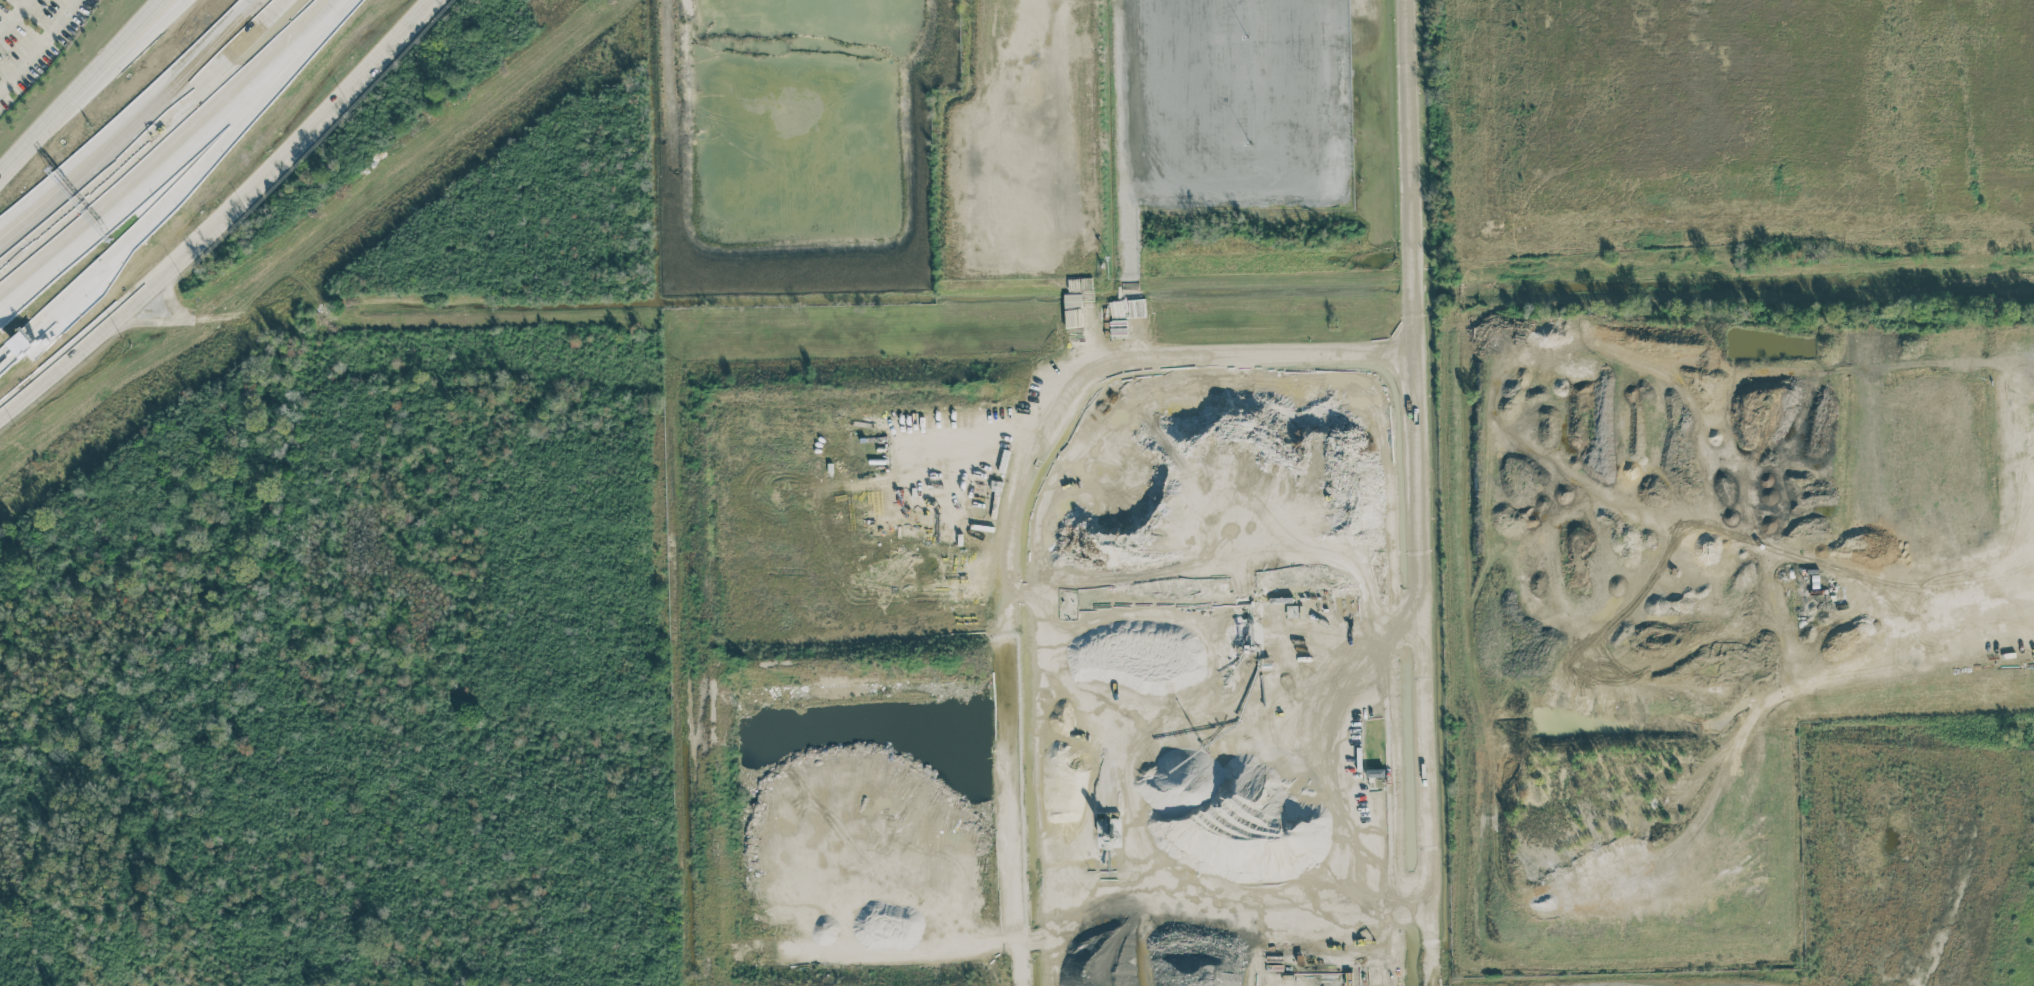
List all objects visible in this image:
road: (865, 5)
road: (15, 17)
road: (126, 37)
parking lot: (33, 39)
road: (39, 46)
road: (77, 83)
road: (1056, 125)
road: (138, 133)
road: (172, 158)
road: (77, 165)
road: (1126, 177)
road: (152, 209)
road: (226, 214)
road: (1156, 355)
road: (2013, 432)
road: (1423, 492)
road: (1235, 560)
road: (1918, 663)
road: (1015, 892)

